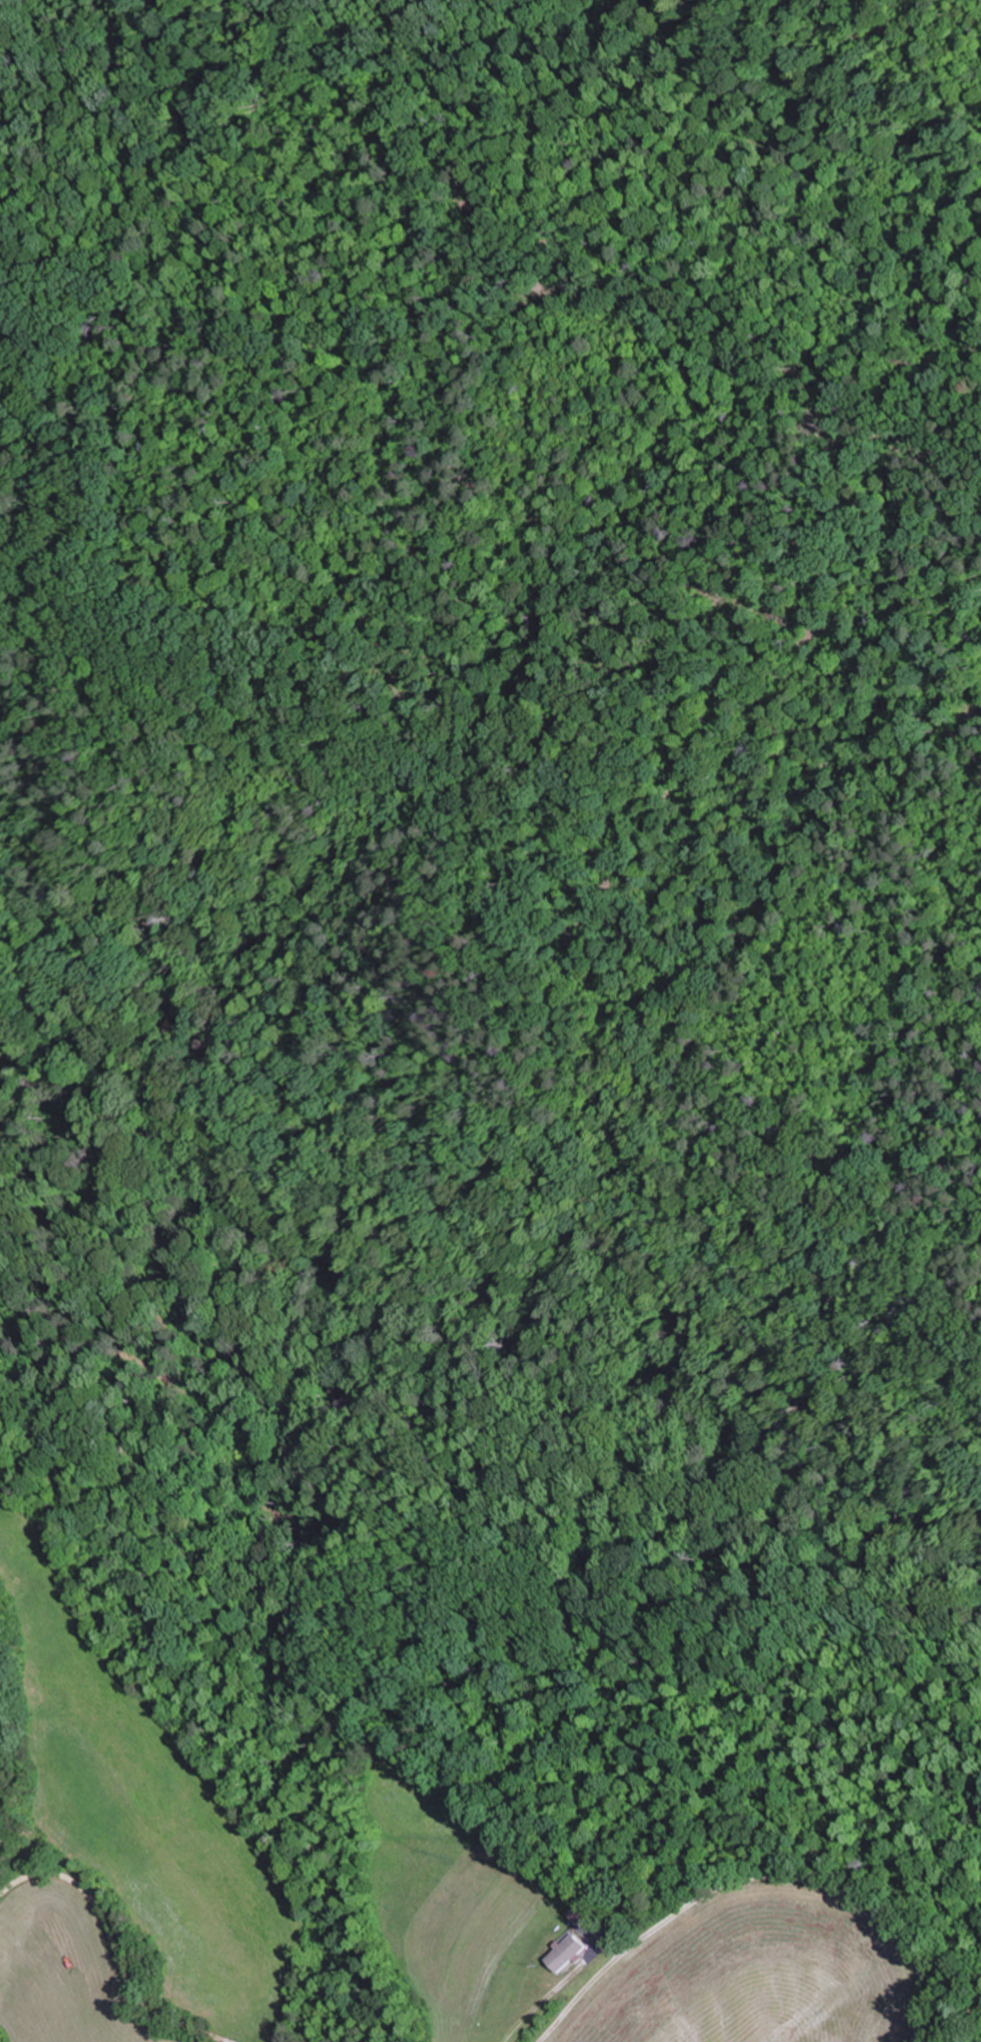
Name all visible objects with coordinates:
road: (760, 1882)
road: (116, 1945)

